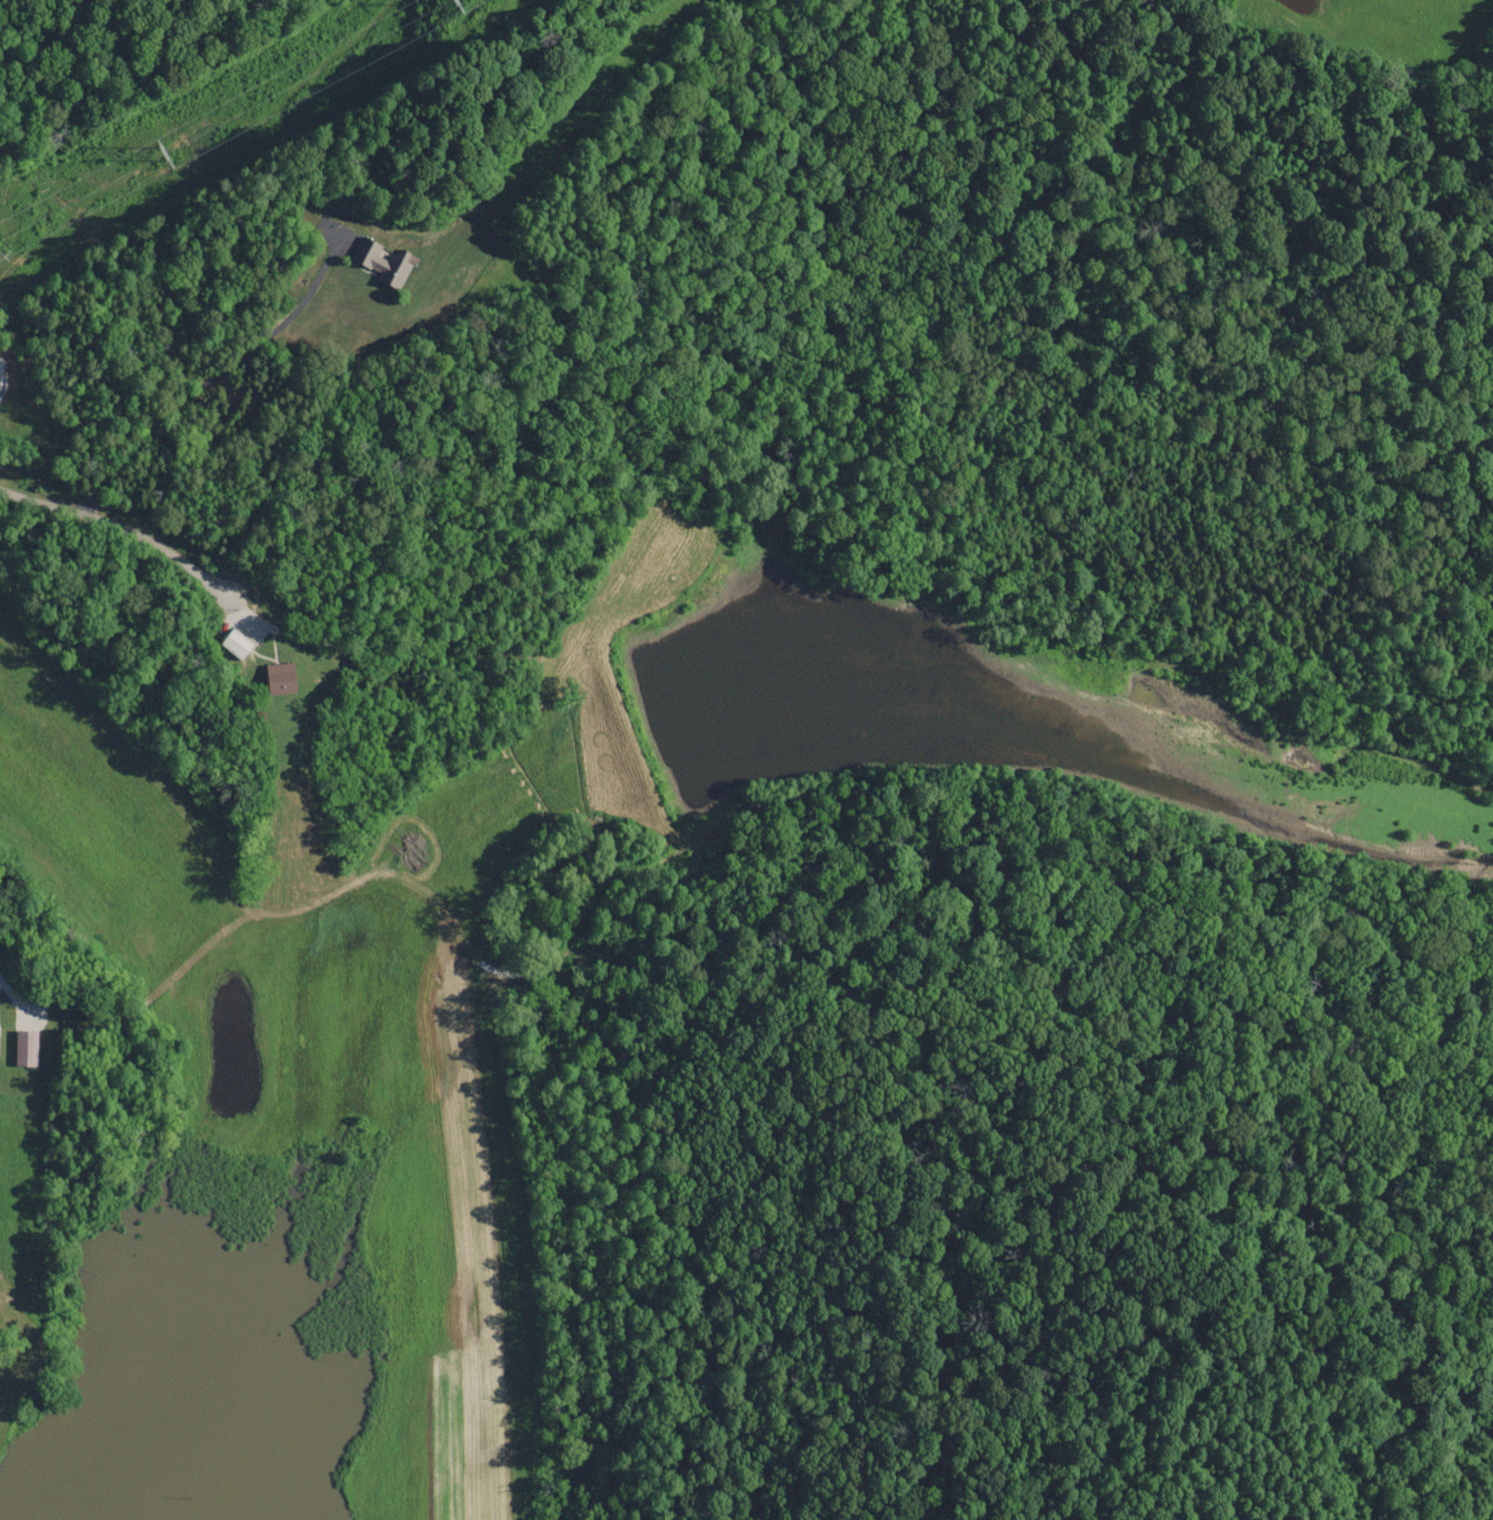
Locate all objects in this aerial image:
power tower: (162, 154)
building: (382, 264)
road: (121, 516)
building: (233, 644)
building: (277, 679)
building: (22, 1048)
building: (10, 1300)

